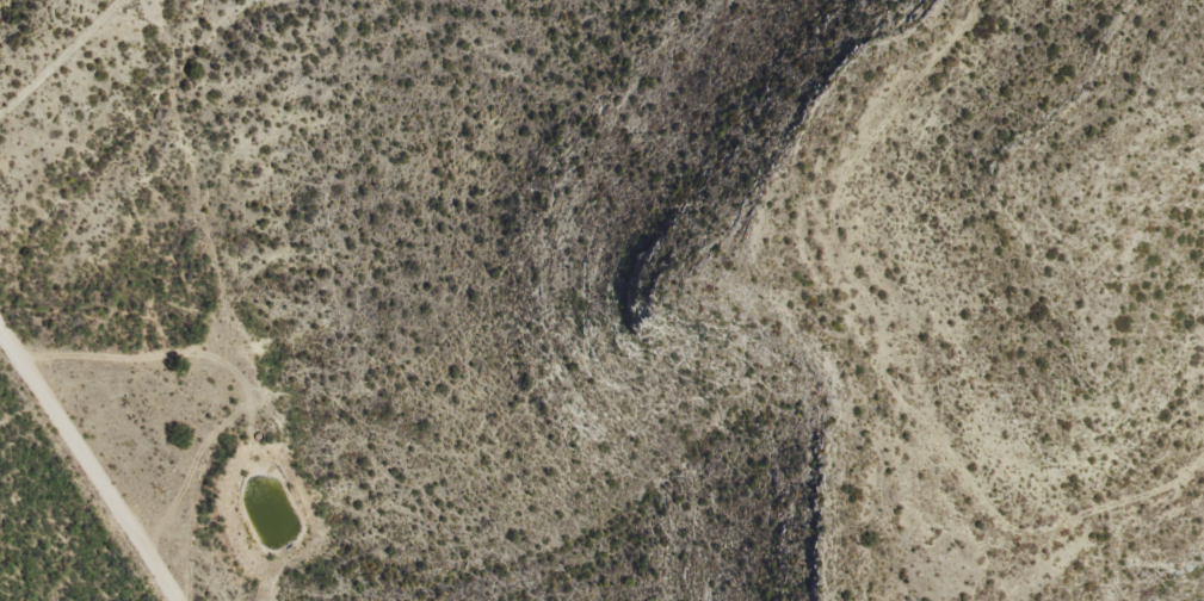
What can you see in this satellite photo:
road: (64, 497)

